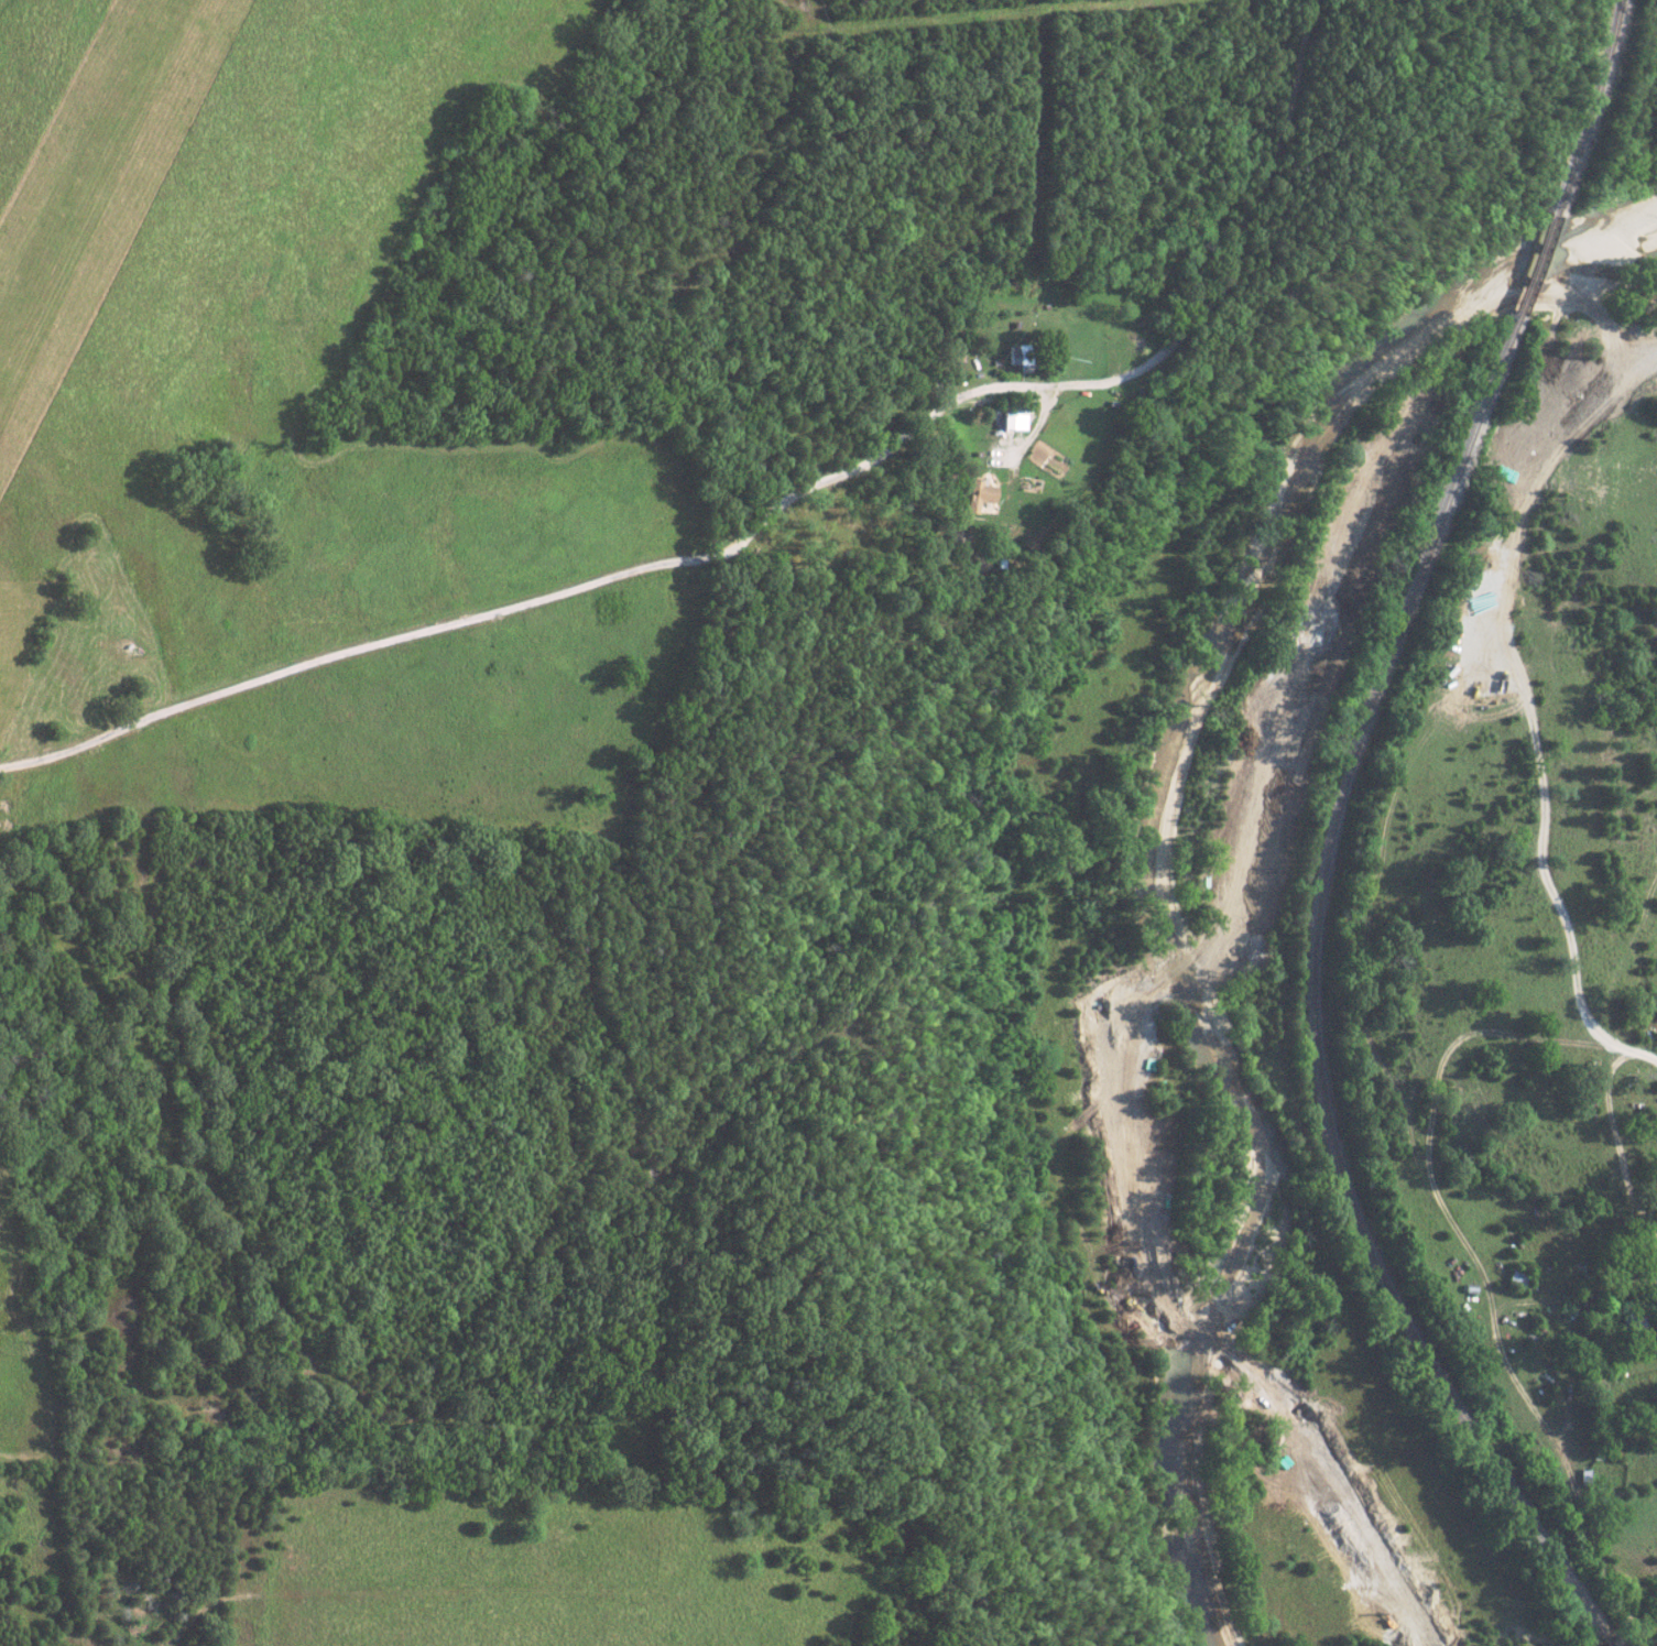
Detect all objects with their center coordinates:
railway: (1593, 110)
railway: (1536, 268)
building: (1025, 357)
building: (1015, 421)
building: (981, 494)
road: (565, 593)
railway: (1316, 994)
road: (1611, 1126)
railway: (1604, 1639)

